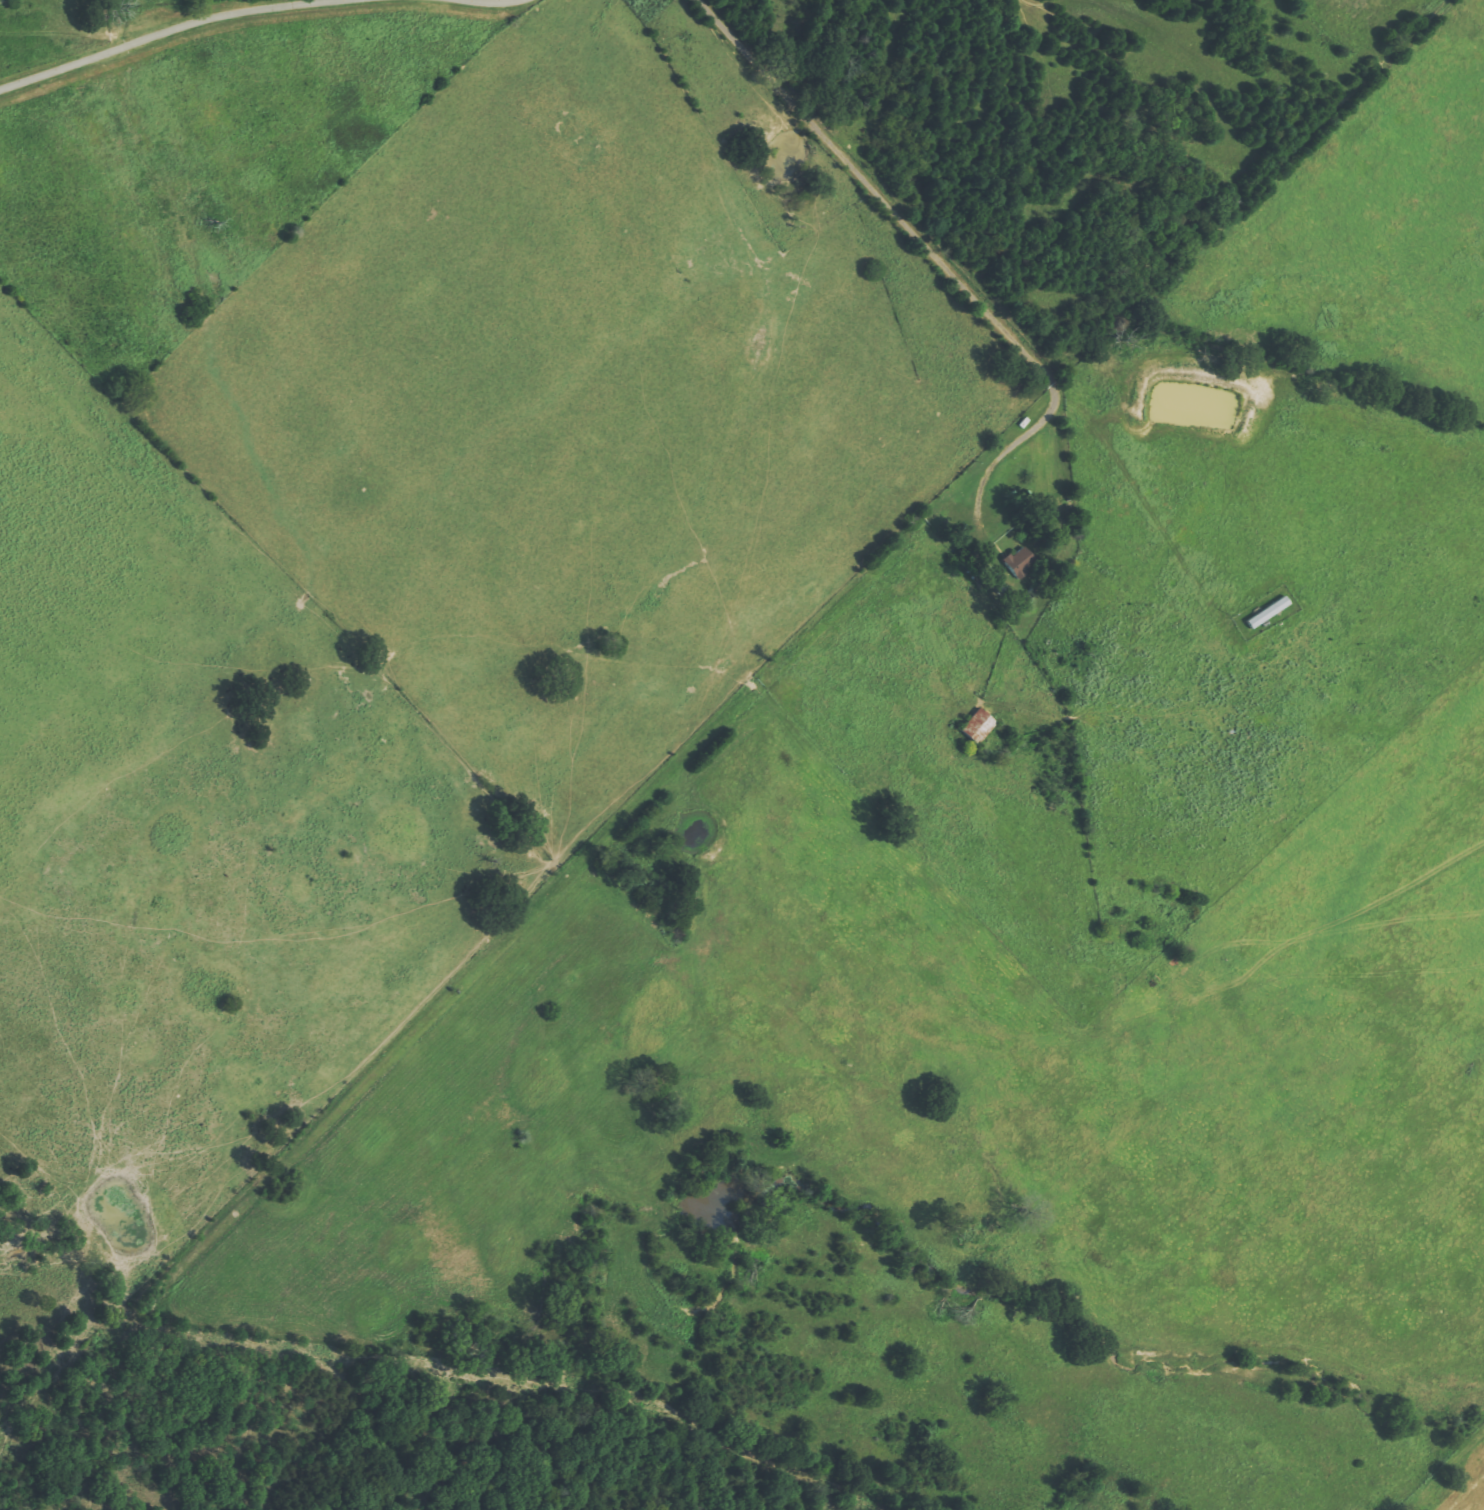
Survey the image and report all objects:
road: (495, 3)
road: (168, 31)
road: (875, 193)
road: (50, 531)
building: (1016, 562)

